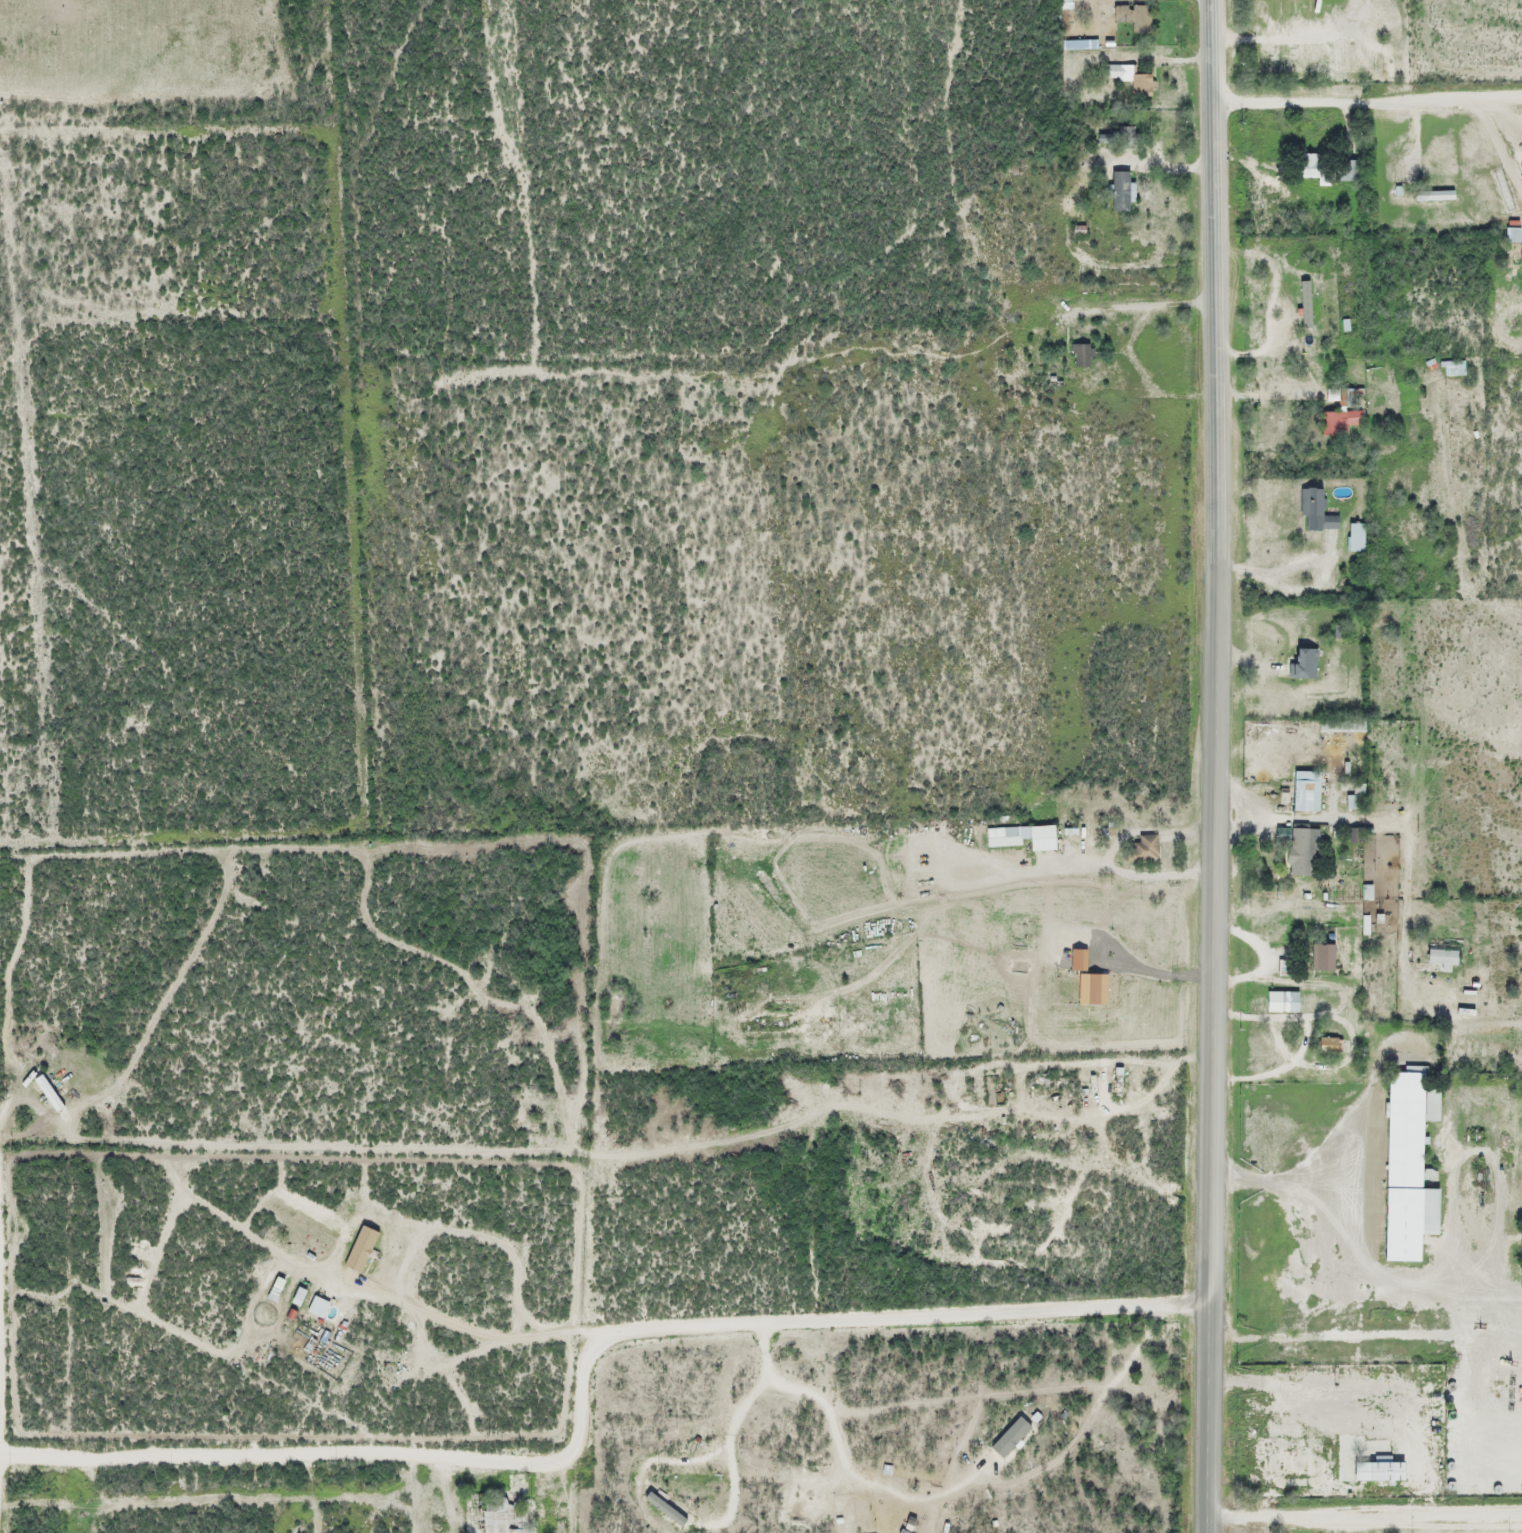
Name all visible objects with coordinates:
building: (1130, 79)
road: (1366, 99)
building: (1124, 137)
building: (1312, 166)
building: (1348, 170)
building: (1118, 191)
building: (1431, 196)
building: (1514, 242)
building: (1080, 356)
building: (1455, 367)
building: (1346, 397)
building: (1338, 422)
building: (1316, 515)
building: (1354, 537)
building: (1301, 664)
building: (1339, 726)
road: (1213, 766)
building: (1303, 791)
building: (1352, 802)
building: (1024, 836)
building: (1141, 848)
building: (1301, 849)
building: (1322, 959)
building: (1440, 959)
building: (1518, 968)
building: (1280, 1002)
building: (1329, 1046)
building: (1116, 1083)
building: (1406, 1167)
road: (582, 1376)
building: (1375, 1471)
road: (1364, 1514)
building: (502, 1516)

